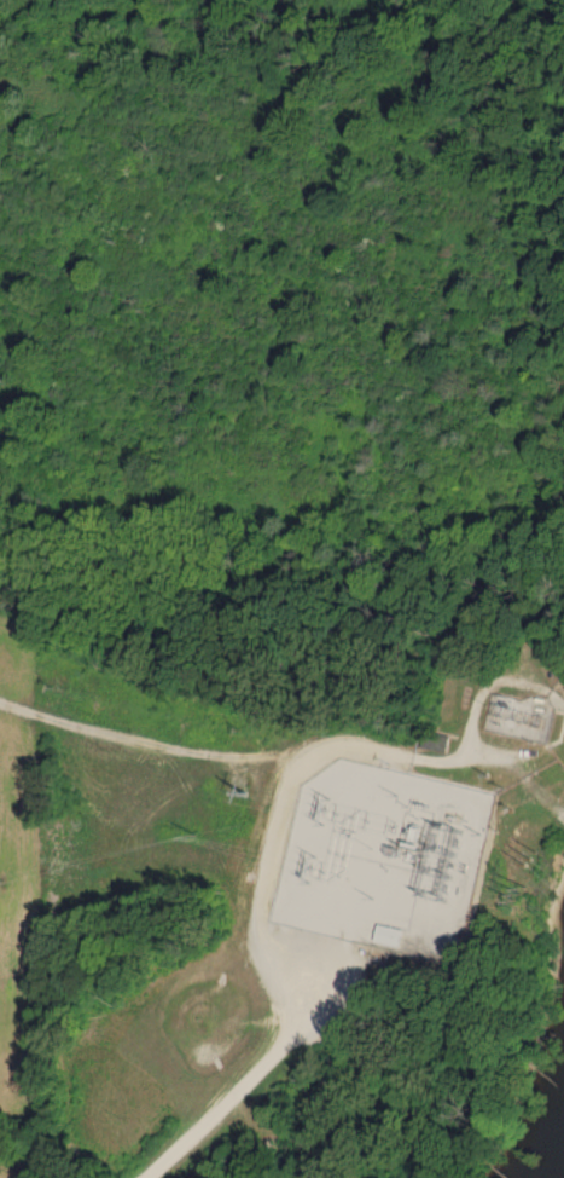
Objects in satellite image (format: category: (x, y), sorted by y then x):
power substation: (380, 854)
road: (260, 889)
building: (393, 932)

